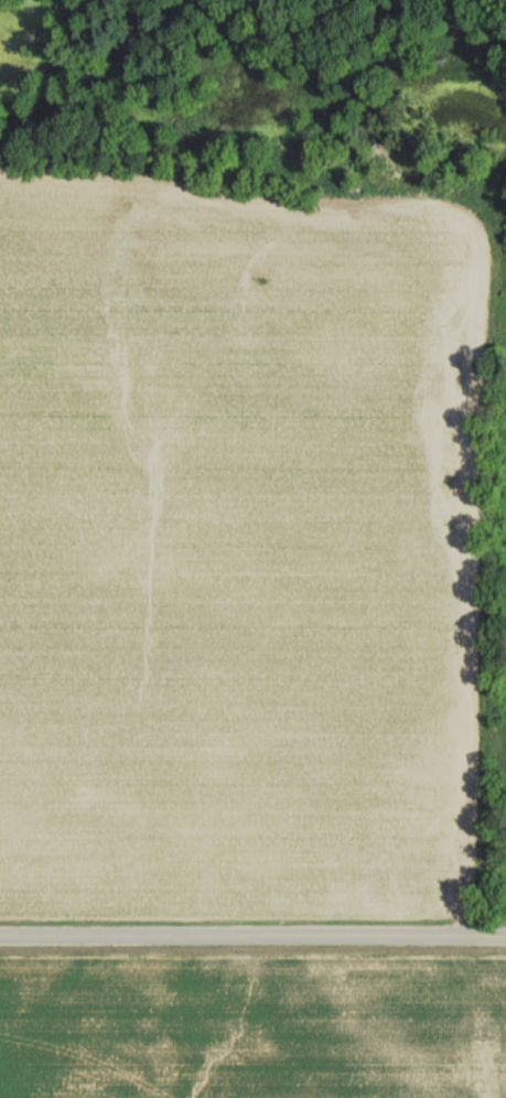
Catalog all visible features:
road: (252, 937)

